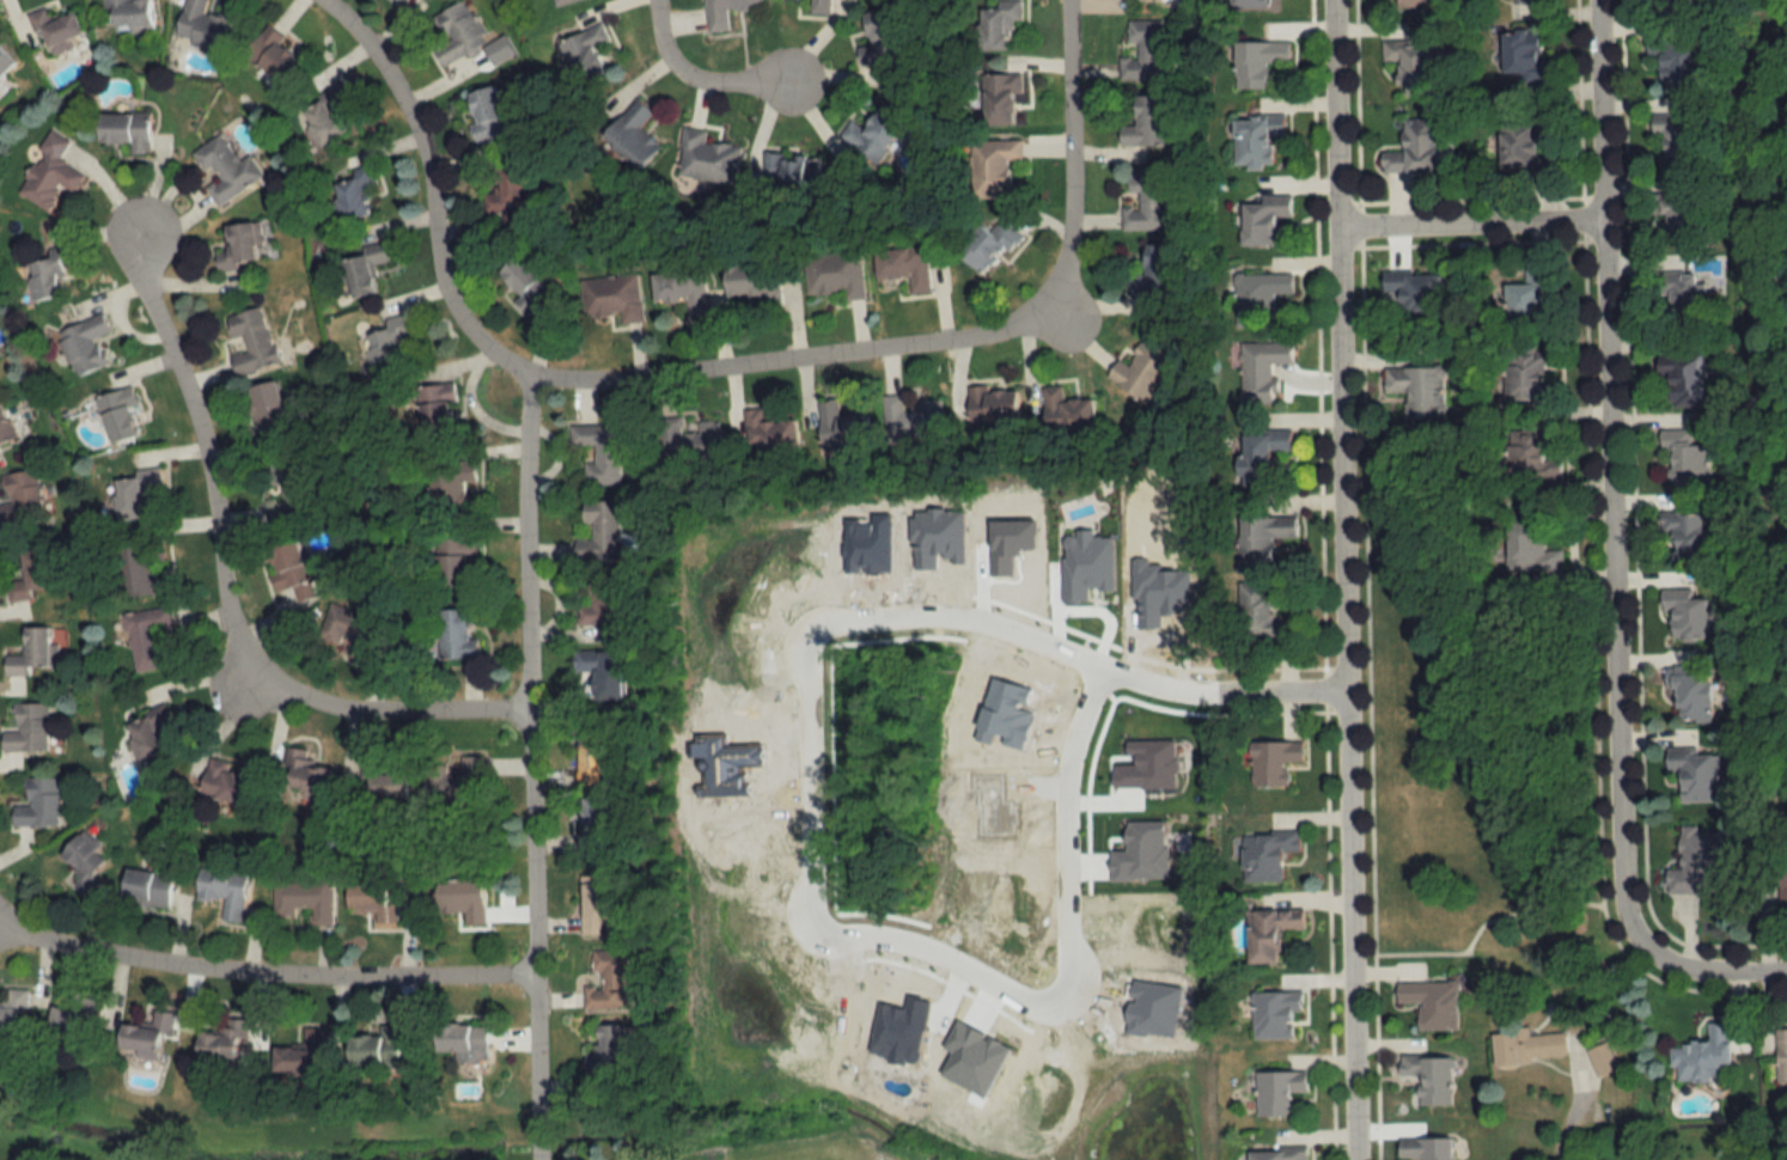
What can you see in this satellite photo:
building: (396, 1)
building: (559, 1)
building: (1530, 1)
building: (1246, 4)
building: (1414, 4)
building: (818, 6)
building: (1669, 6)
building: (722, 12)
building: (133, 13)
building: (995, 22)
building: (205, 25)
building: (60, 30)
building: (457, 33)
building: (878, 37)
building: (1143, 51)
building: (584, 53)
building: (272, 55)
building: (1520, 55)
building: (1256, 61)
building: (1408, 65)
building: (1673, 66)
building: (6, 67)
road: (697, 83)
building: (998, 98)
building: (484, 114)
building: (322, 116)
building: (1145, 122)
building: (130, 130)
building: (630, 134)
building: (871, 134)
building: (1254, 141)
building: (1673, 142)
building: (1413, 148)
building: (1519, 148)
road: (1069, 155)
building: (703, 159)
building: (992, 167)
building: (225, 170)
building: (789, 173)
building: (51, 175)
road: (431, 189)
building: (504, 190)
building: (350, 195)
building: (1146, 201)
building: (1676, 212)
building: (1261, 220)
road: (1468, 230)
building: (238, 246)
building: (987, 246)
building: (902, 267)
building: (360, 269)
building: (1153, 273)
building: (53, 274)
building: (832, 274)
building: (523, 282)
building: (752, 282)
building: (679, 289)
building: (614, 298)
building: (1257, 298)
building: (1411, 298)
building: (1527, 298)
building: (1682, 298)
building: (251, 340)
building: (384, 343)
building: (87, 344)
road: (788, 355)
building: (1142, 370)
building: (1261, 370)
building: (1527, 378)
building: (1683, 380)
building: (1417, 390)
building: (992, 405)
building: (264, 407)
building: (434, 410)
building: (1065, 411)
building: (123, 415)
building: (911, 416)
building: (6, 423)
building: (840, 427)
building: (766, 432)
building: (687, 440)
building: (1260, 456)
building: (1685, 457)
building: (1530, 460)
road: (1608, 481)
building: (447, 484)
building: (286, 490)
building: (584, 493)
building: (136, 494)
building: (24, 497)
building: (1262, 537)
building: (1684, 537)
building: (1529, 545)
building: (453, 563)
building: (285, 566)
building: (146, 567)
building: (35, 574)
road: (1343, 580)
road: (224, 584)
building: (599, 602)
building: (1260, 613)
building: (1687, 615)
building: (353, 635)
building: (452, 636)
building: (151, 637)
building: (37, 651)
road: (1075, 659)
building: (579, 660)
building: (605, 676)
building: (1690, 697)
building: (31, 728)
building: (152, 734)
building: (581, 755)
building: (1270, 763)
road: (529, 767)
building: (1696, 774)
building: (307, 775)
road: (809, 776)
building: (457, 779)
building: (231, 783)
building: (386, 783)
building: (43, 804)
building: (591, 825)
road: (1061, 831)
building: (1264, 855)
building: (1695, 862)
building: (91, 863)
building: (1782, 874)
building: (151, 887)
building: (227, 890)
building: (468, 899)
building: (306, 900)
building: (377, 902)
building: (591, 909)
building: (1267, 934)
road: (940, 959)
road: (261, 969)
road: (1714, 977)
building: (608, 979)
building: (1431, 1003)
building: (16, 1014)
building: (1273, 1015)
building: (78, 1019)
building: (153, 1037)
building: (469, 1040)
building: (379, 1046)
building: (608, 1046)
building: (1525, 1046)
building: (227, 1048)
building: (306, 1056)
building: (1702, 1056)
building: (1781, 1057)
building: (1600, 1060)
building: (1426, 1080)
building: (1276, 1093)
road: (1566, 1135)
building: (1423, 1149)
building: (1276, 1155)

